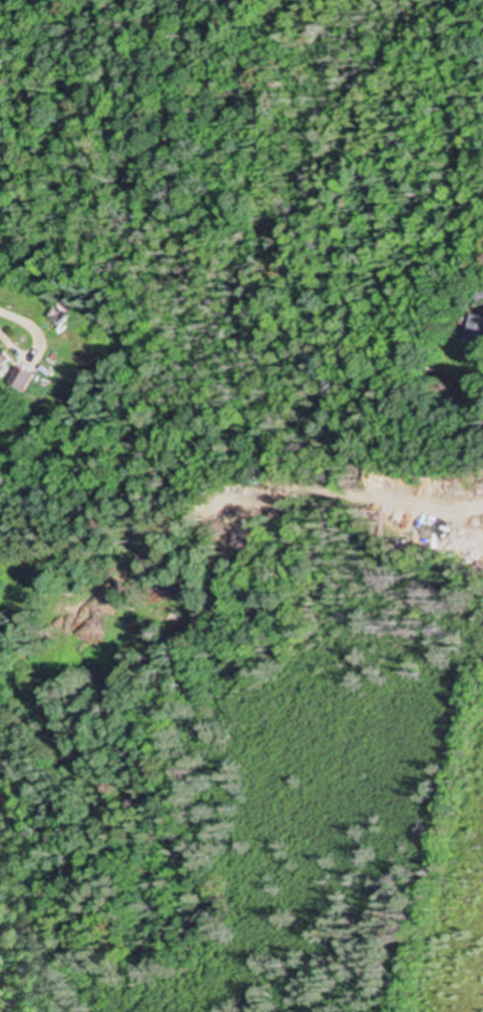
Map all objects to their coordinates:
building: (480, 297)
building: (65, 312)
building: (474, 332)
building: (6, 367)
building: (25, 380)

